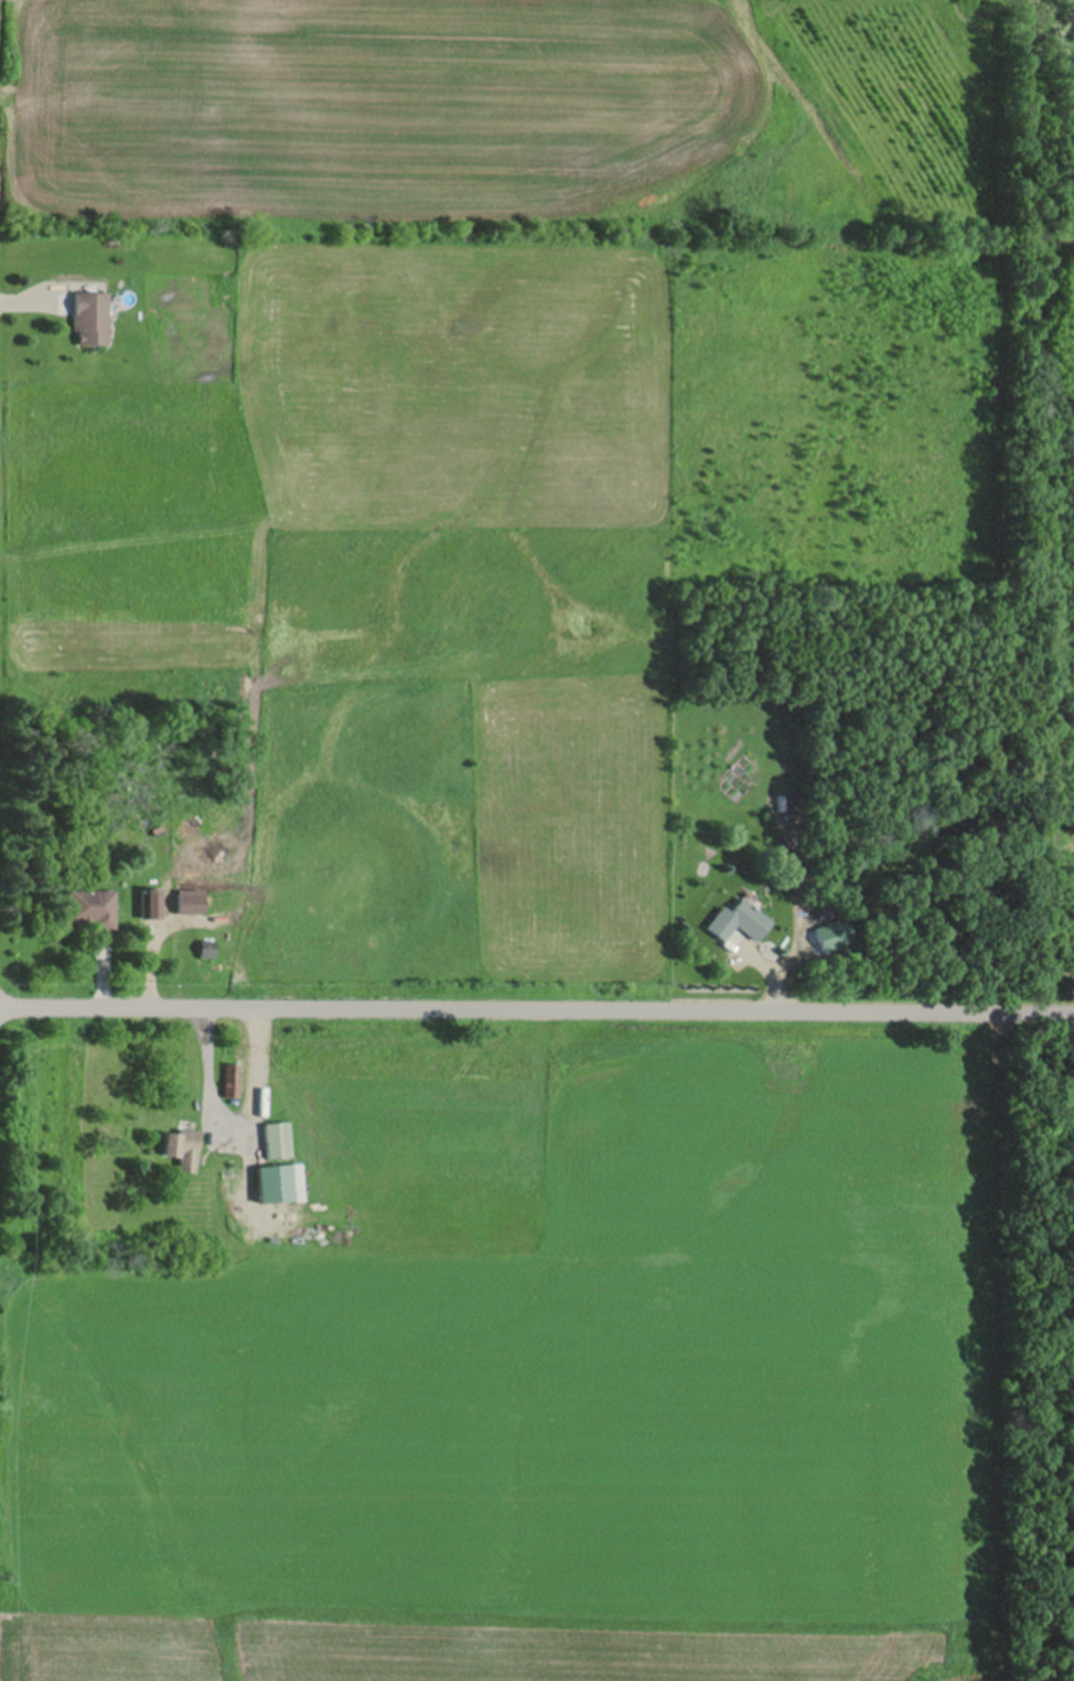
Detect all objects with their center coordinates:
building: (92, 320)
building: (190, 829)
building: (153, 904)
building: (191, 904)
building: (93, 910)
building: (739, 924)
road: (536, 1002)
building: (232, 1081)
road: (237, 1116)
building: (277, 1142)
building: (182, 1149)

